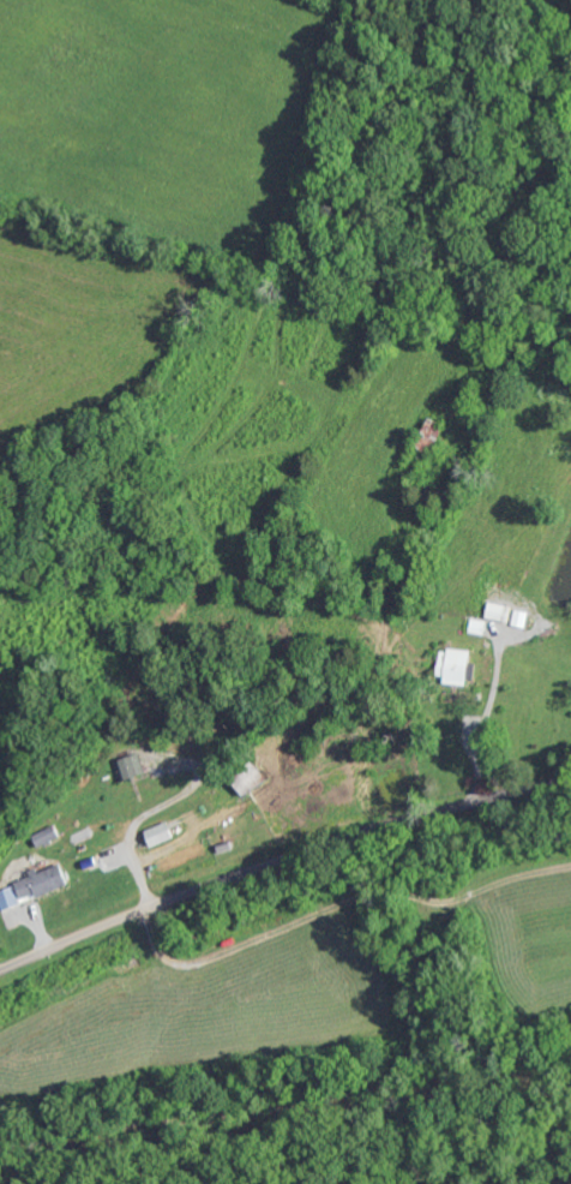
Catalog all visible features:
building: (504, 614)
building: (452, 665)
building: (125, 765)
building: (152, 833)
building: (41, 835)
road: (280, 860)
building: (31, 885)
road: (20, 889)

